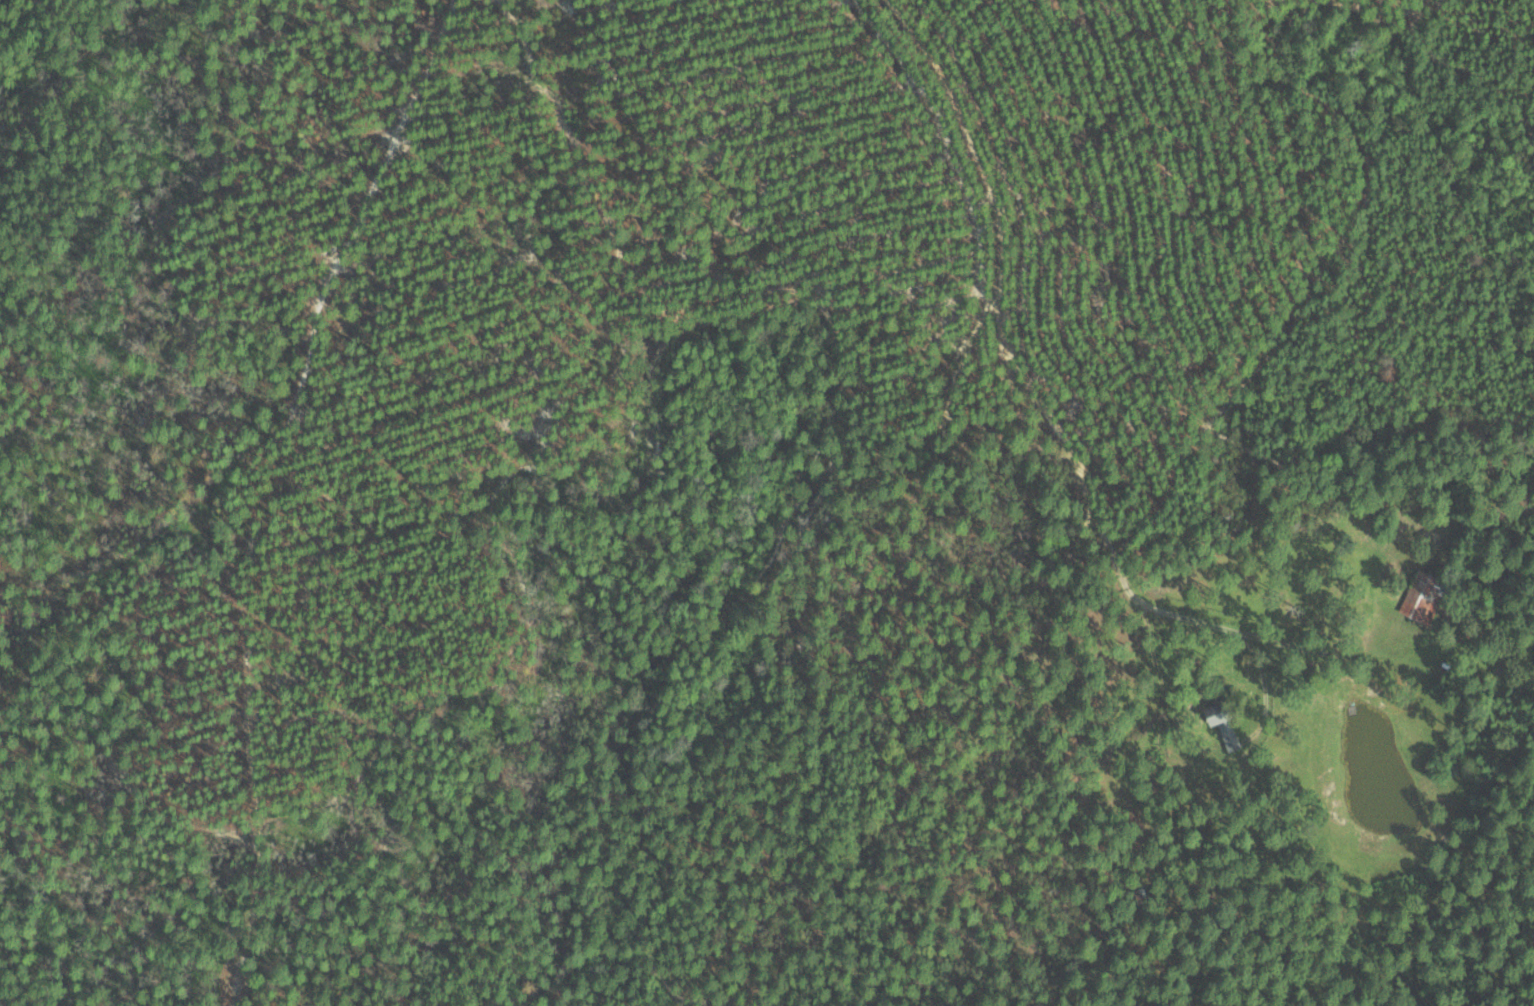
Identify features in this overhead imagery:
building: (1422, 599)

